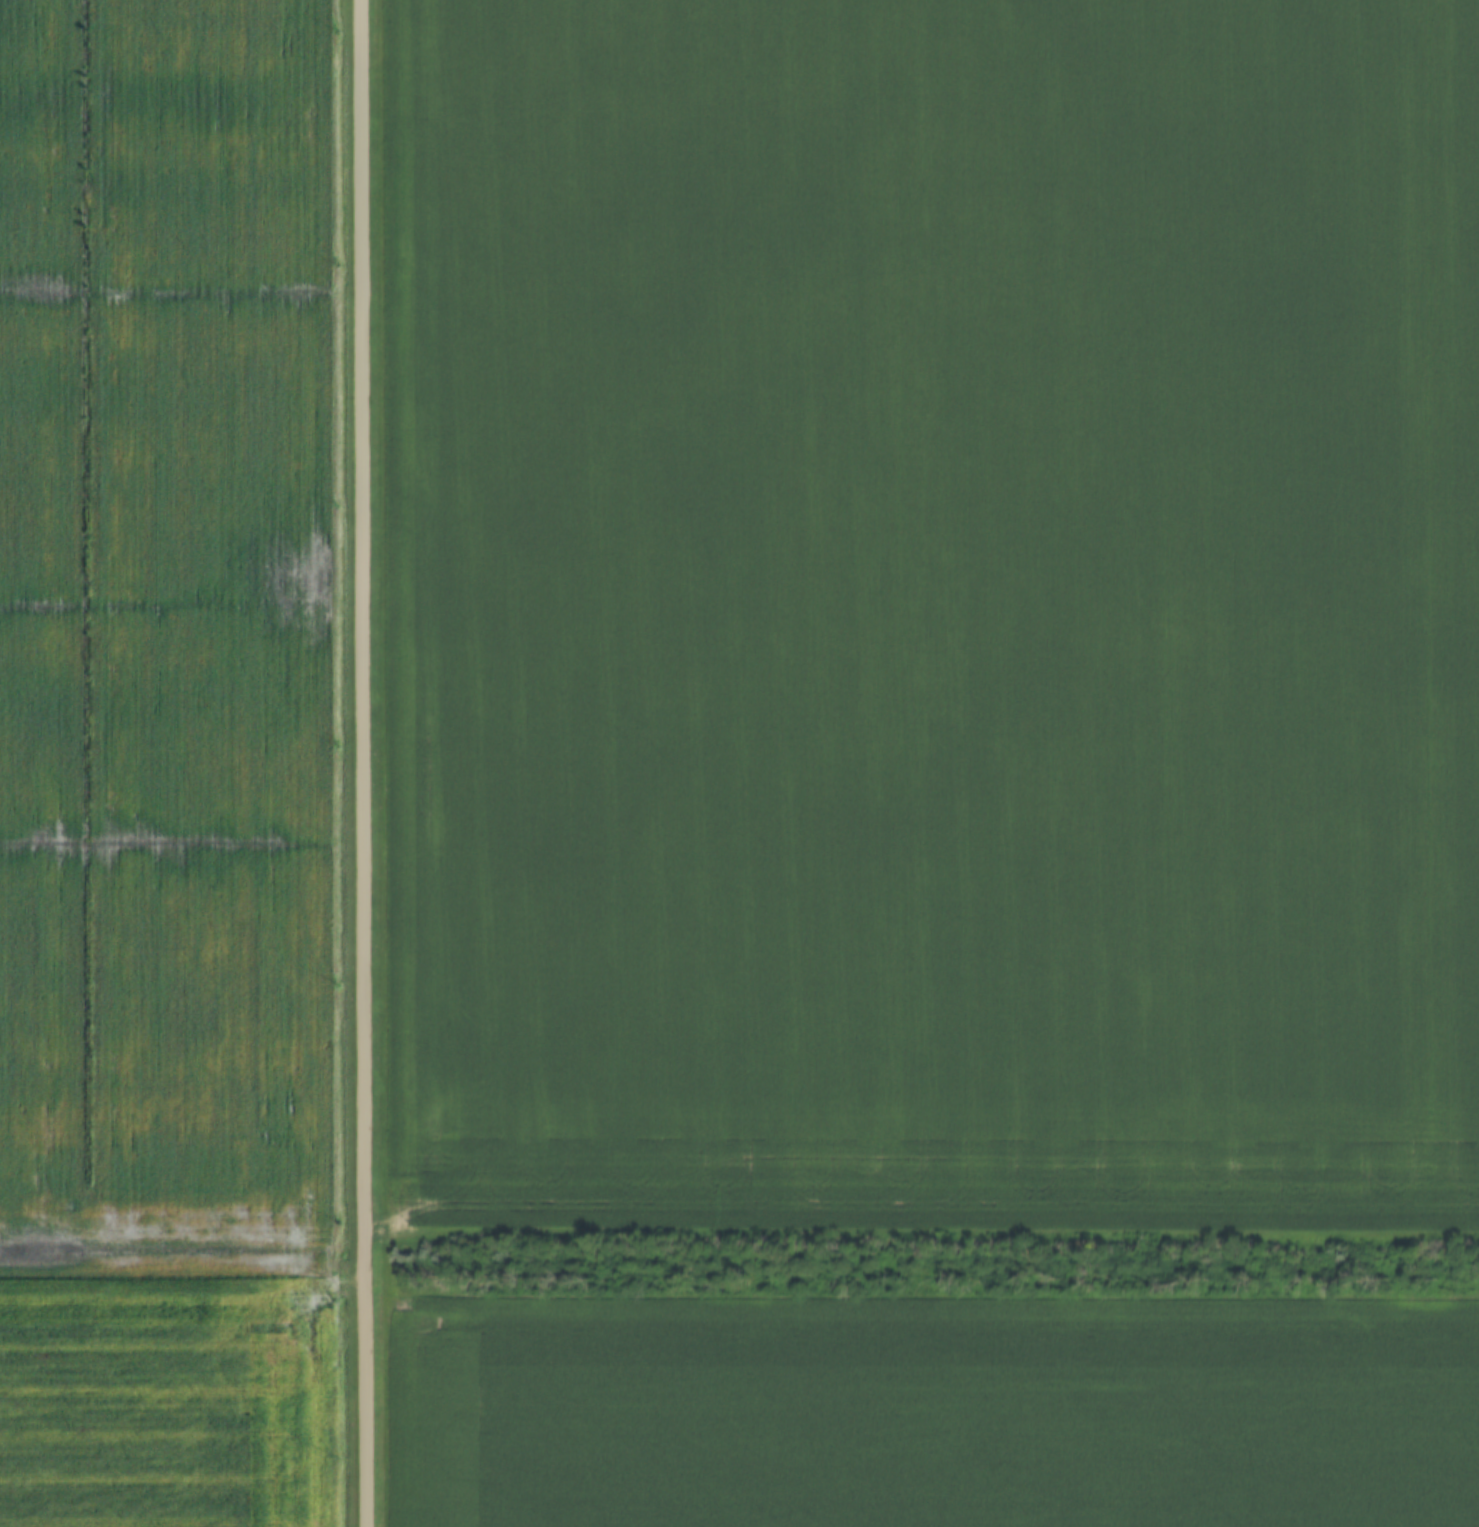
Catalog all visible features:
road: (370, 763)

